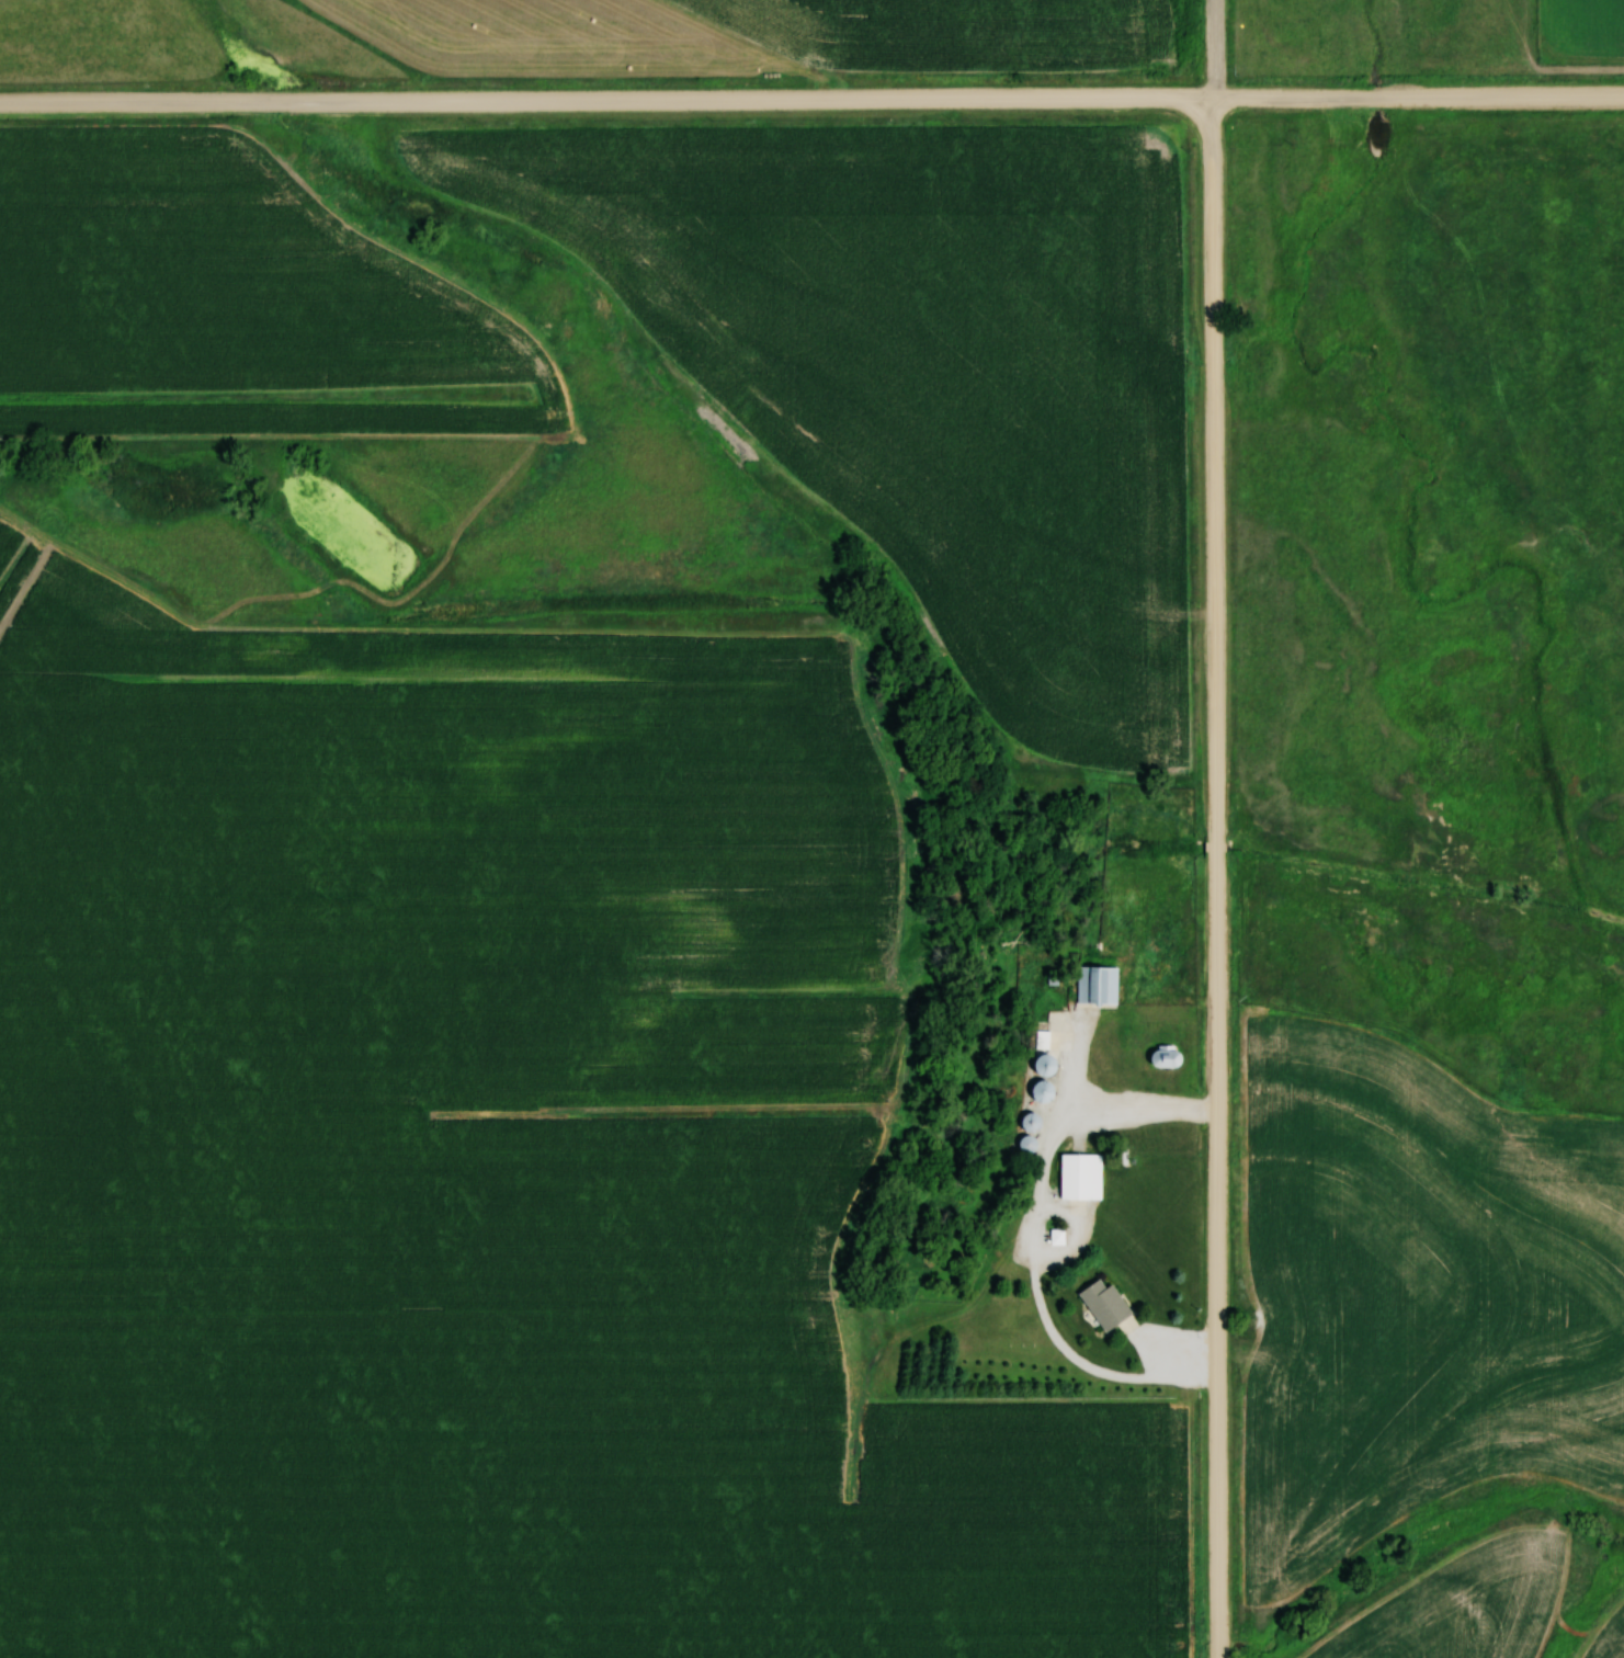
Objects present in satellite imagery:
road: (811, 103)
road: (1219, 829)
building: (1099, 984)
building: (1049, 1064)
building: (1083, 1176)
road: (1038, 1241)
building: (1109, 1305)

